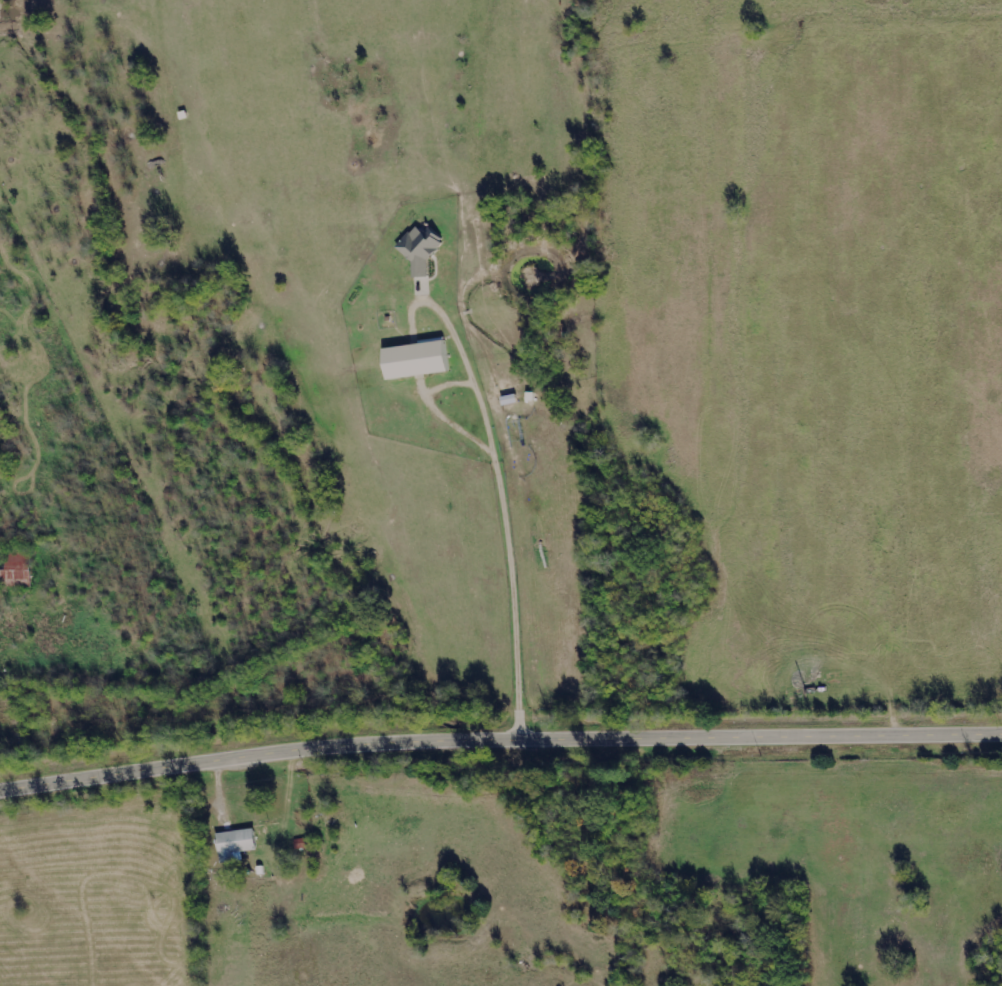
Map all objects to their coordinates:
building: (422, 249)
building: (420, 360)
building: (18, 574)
road: (499, 740)
building: (238, 844)

